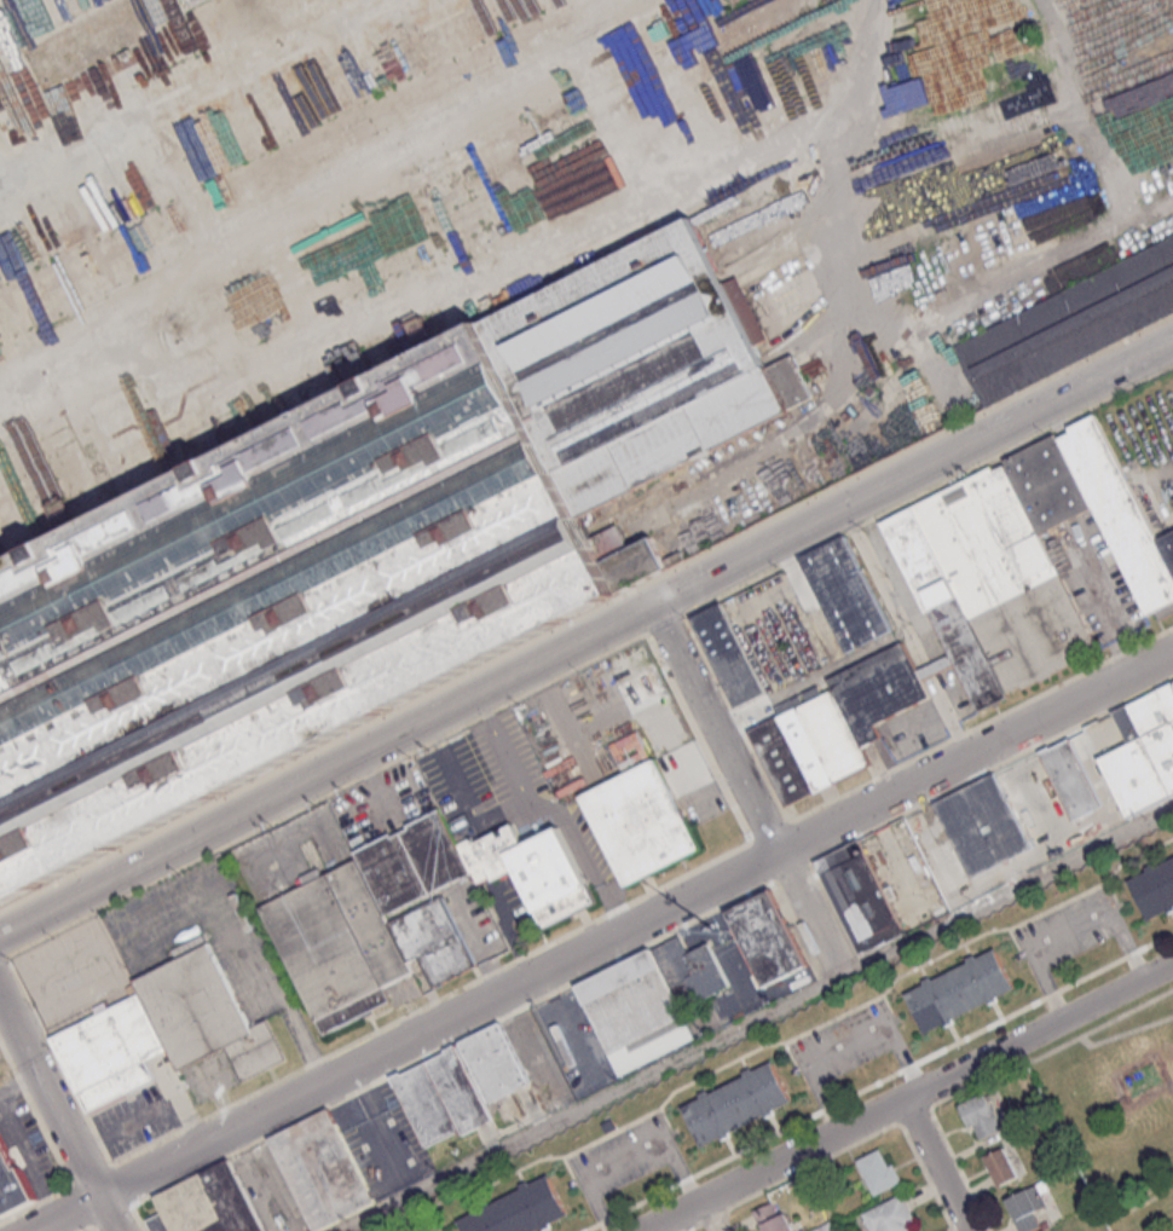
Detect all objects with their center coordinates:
road: (195, 92)
road: (750, 145)
road: (351, 178)
road: (851, 178)
road: (177, 180)
road: (429, 282)
building: (744, 308)
building: (1071, 319)
building: (634, 365)
building: (788, 381)
building: (243, 468)
road: (912, 473)
building: (259, 508)
building: (608, 538)
building: (261, 551)
building: (272, 591)
building: (844, 593)
building: (976, 600)
building: (283, 637)
road: (874, 648)
building: (728, 654)
building: (290, 675)
building: (320, 706)
road: (940, 713)
road: (715, 729)
road: (975, 750)
building: (1143, 751)
road: (325, 770)
building: (1071, 779)
road: (464, 794)
road: (551, 809)
building: (640, 821)
building: (982, 825)
building: (1154, 886)
building: (859, 896)
building: (408, 909)
road: (809, 914)
road: (1069, 929)
building: (764, 937)
building: (688, 971)
building: (959, 989)
road: (758, 1019)
road: (438, 1025)
building: (163, 1030)
road: (849, 1050)
road: (17, 1080)
building: (457, 1085)
road: (908, 1097)
road: (50, 1099)
building: (735, 1103)
road: (150, 1109)
park: (1120, 1114)
building: (980, 1116)
road: (46, 1137)
road: (630, 1157)
road: (936, 1166)
building: (1000, 1166)
building: (879, 1169)
building: (323, 1171)
road: (261, 1180)
building: (12, 1183)
building: (208, 1206)
building: (1025, 1207)
building: (518, 1209)
road: (69, 1215)
road: (108, 1215)
road: (711, 1215)
building: (891, 1215)
building: (772, 1218)
road: (671, 1225)

